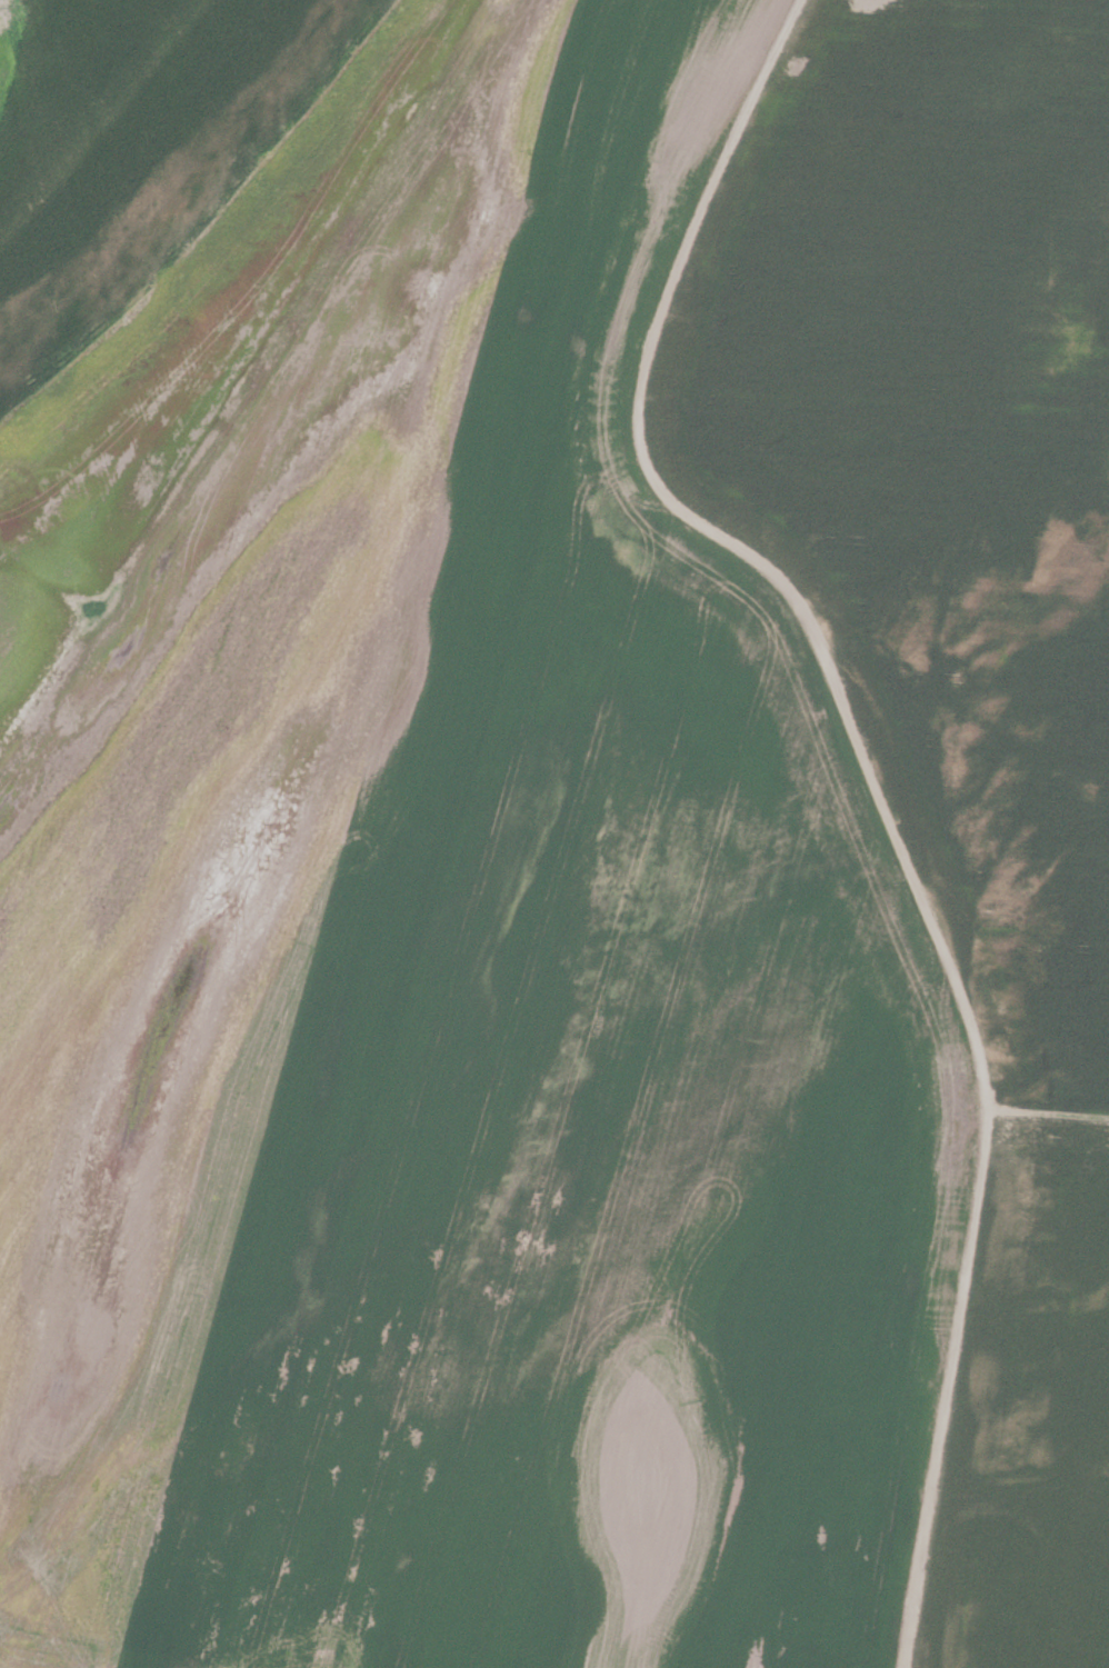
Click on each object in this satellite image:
road: (286, 372)
road: (742, 549)
crop: (554, 833)
road: (947, 1391)

